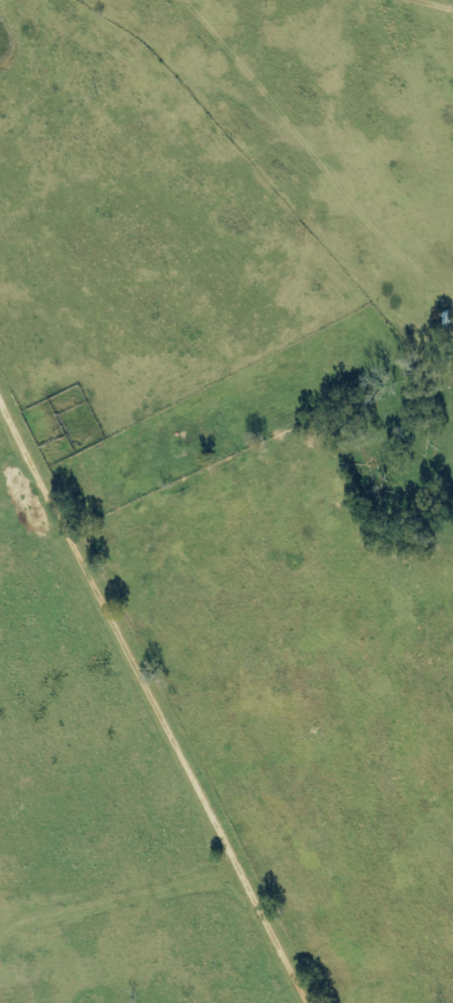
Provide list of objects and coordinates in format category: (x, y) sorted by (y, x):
road: (148, 703)

